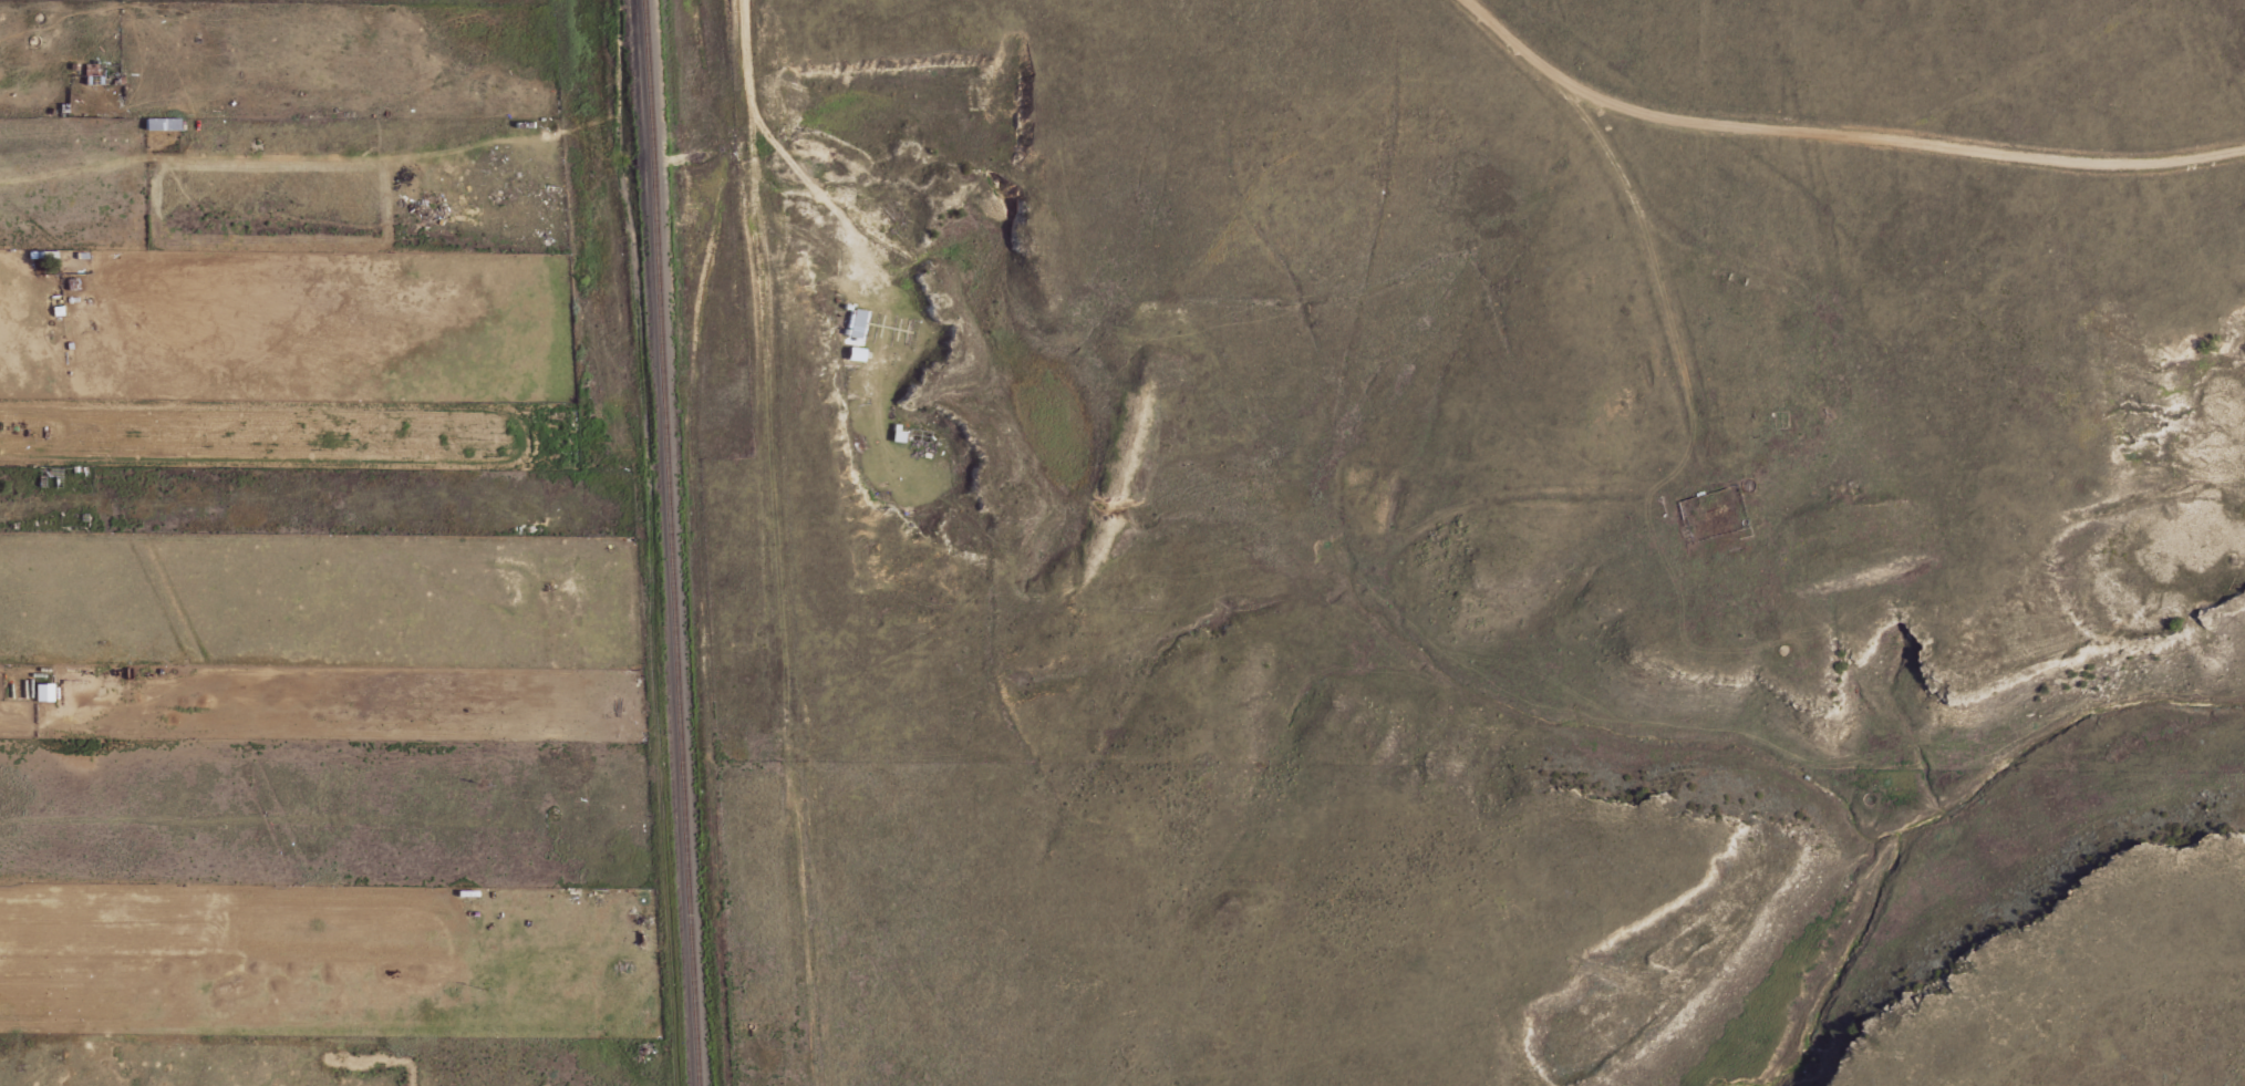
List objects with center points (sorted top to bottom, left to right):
building: (159, 124)
railway: (673, 542)
building: (42, 692)

